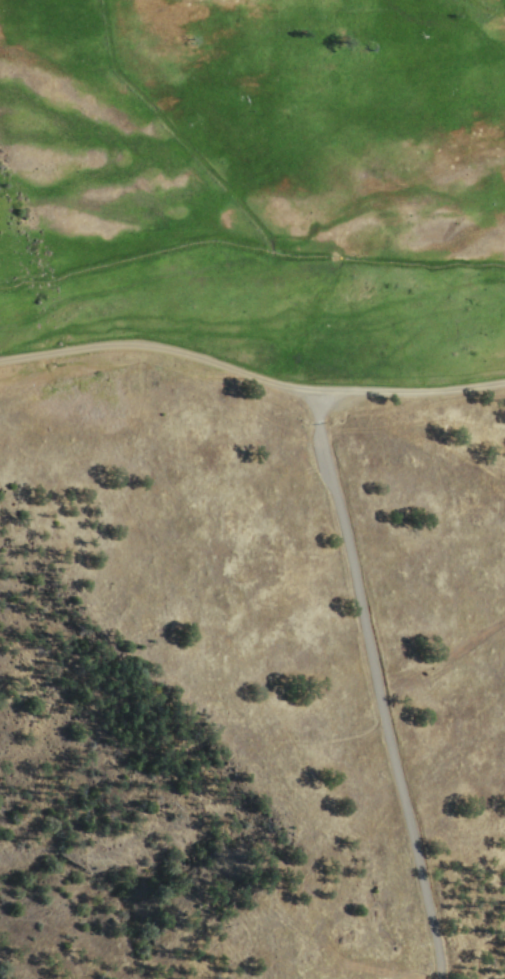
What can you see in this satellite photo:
road: (70, 352)
road: (319, 393)
road: (370, 686)

